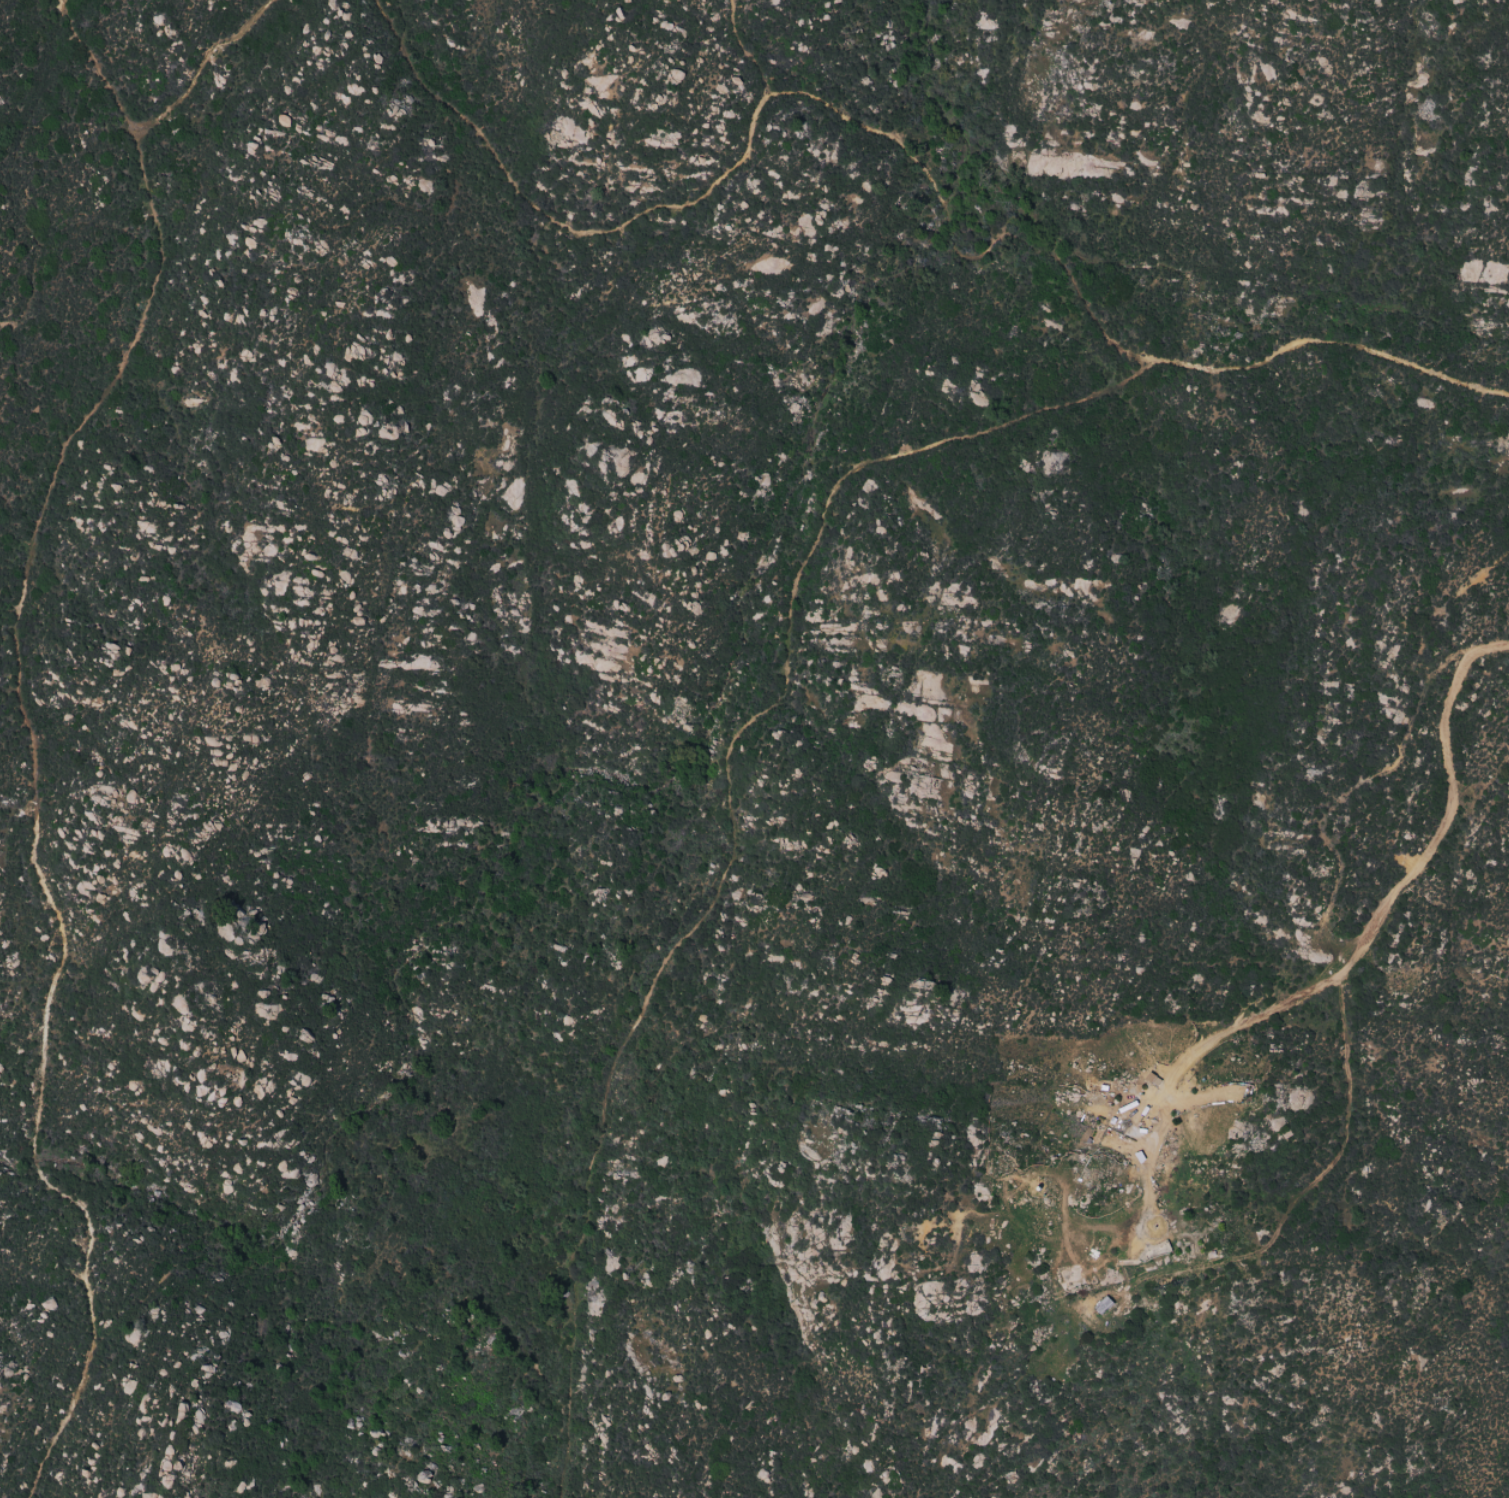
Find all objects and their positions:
road: (1391, 891)
road: (1309, 1188)

